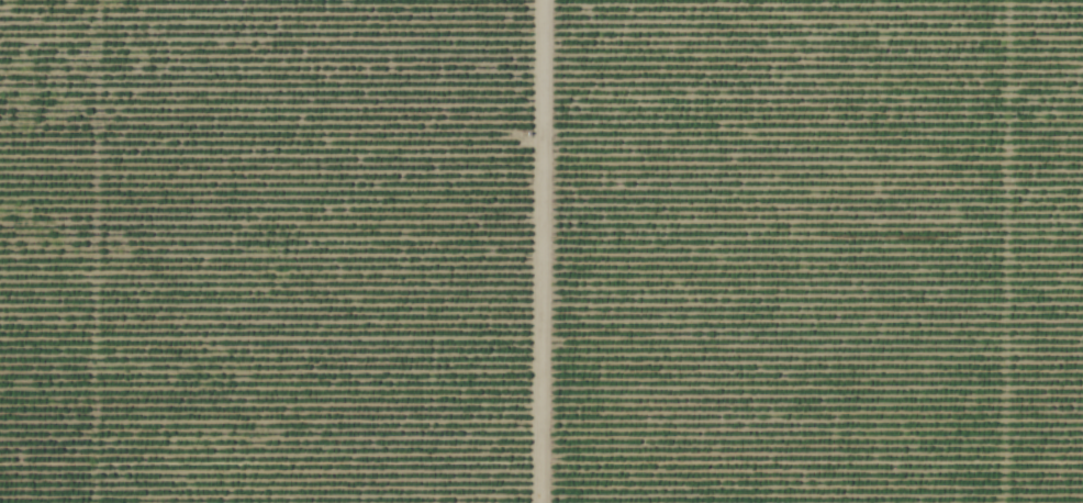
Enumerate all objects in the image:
crop: (264, 250)
road: (537, 251)

